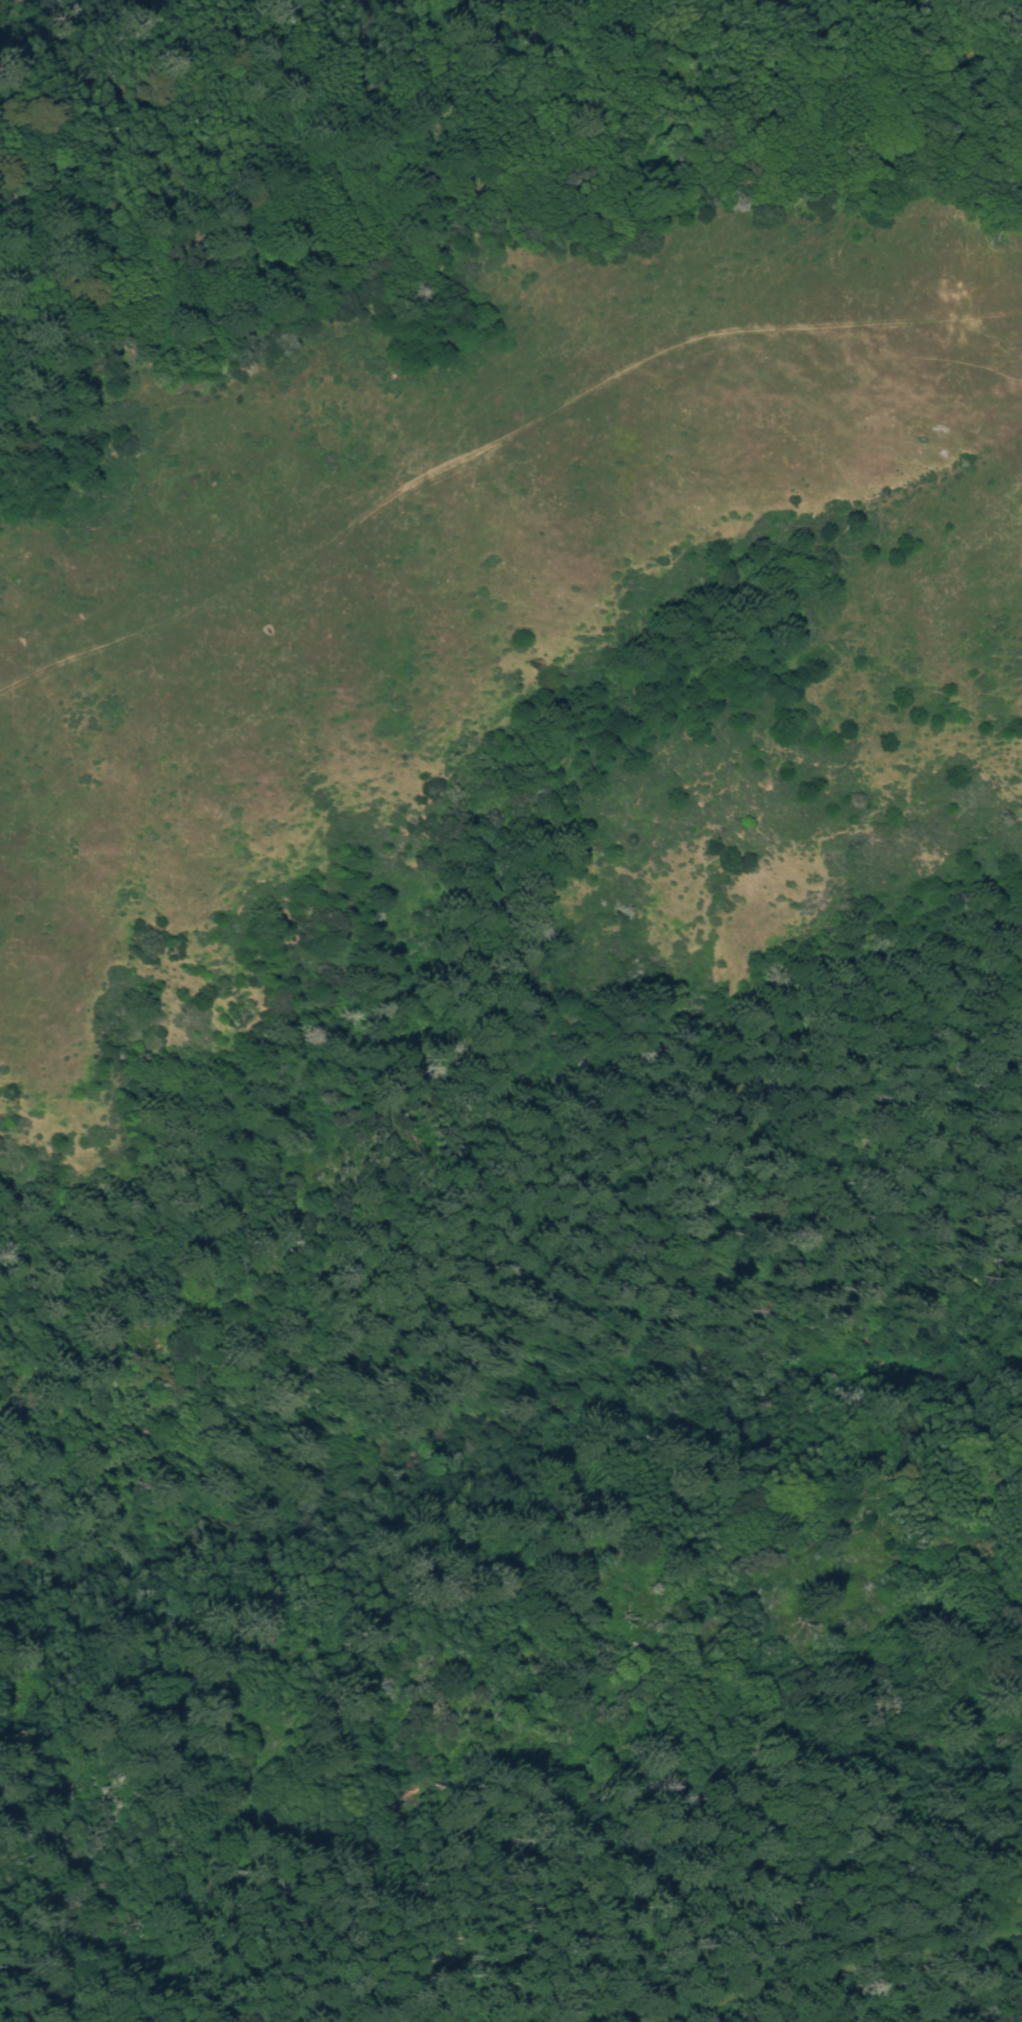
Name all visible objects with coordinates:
road: (792, 1952)

